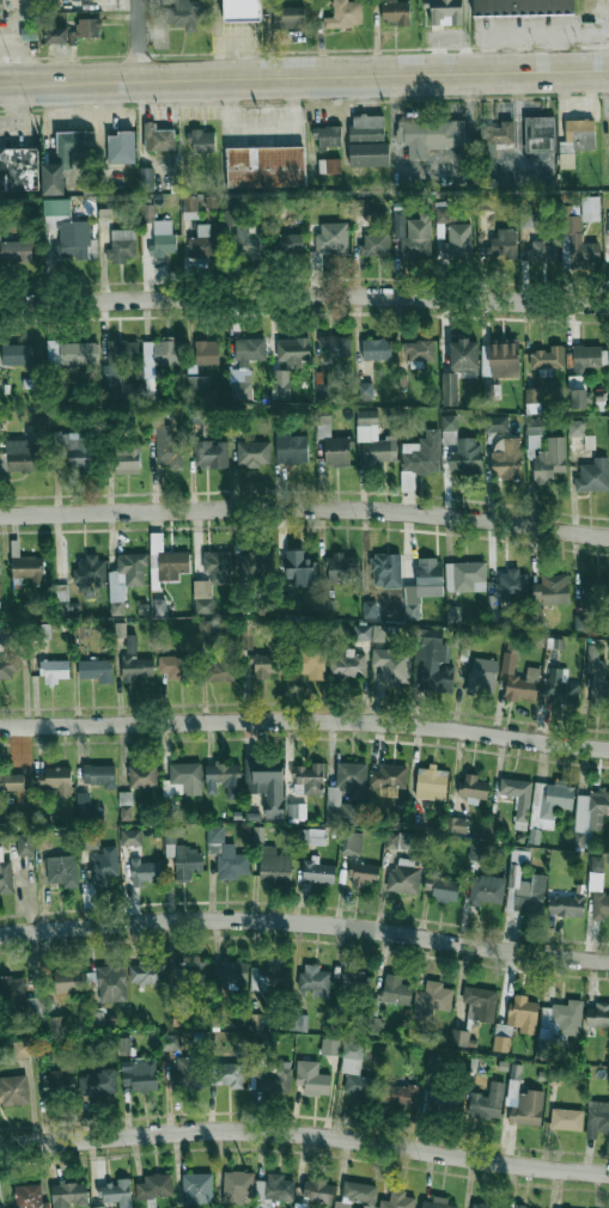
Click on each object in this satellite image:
building: (522, 7)
building: (242, 10)
building: (396, 12)
building: (444, 12)
building: (181, 13)
building: (345, 14)
building: (288, 18)
building: (85, 29)
building: (56, 35)
road: (529, 36)
road: (140, 39)
road: (602, 47)
road: (560, 51)
road: (522, 53)
road: (26, 55)
road: (304, 74)
building: (367, 128)
building: (498, 133)
building: (538, 133)
building: (328, 135)
building: (430, 135)
building: (578, 135)
building: (158, 138)
building: (201, 141)
building: (121, 147)
building: (369, 154)
building: (65, 158)
building: (330, 165)
building: (266, 166)
building: (18, 169)
road: (432, 169)
building: (146, 178)
building: (189, 203)
building: (361, 206)
building: (56, 207)
building: (105, 208)
building: (590, 208)
building: (445, 212)
building: (147, 213)
building: (528, 220)
building: (163, 238)
building: (331, 238)
building: (416, 238)
building: (73, 239)
building: (246, 239)
building: (458, 242)
building: (203, 244)
building: (290, 244)
building: (504, 244)
building: (121, 245)
building: (374, 245)
building: (580, 246)
building: (542, 250)
building: (16, 251)
road: (304, 298)
building: (334, 346)
building: (376, 349)
building: (293, 350)
building: (72, 352)
building: (206, 352)
building: (419, 352)
building: (17, 354)
building: (463, 354)
building: (547, 358)
building: (585, 358)
building: (500, 359)
building: (117, 362)
building: (245, 365)
building: (280, 383)
building: (197, 385)
building: (449, 389)
building: (364, 390)
building: (489, 390)
building: (136, 391)
building: (578, 398)
building: (323, 415)
building: (449, 422)
building: (495, 423)
building: (534, 426)
building: (374, 439)
building: (581, 443)
building: (168, 447)
building: (292, 449)
building: (77, 451)
building: (336, 451)
building: (211, 453)
building: (252, 453)
building: (421, 453)
building: (22, 456)
building: (465, 456)
building: (127, 460)
building: (507, 460)
building: (549, 460)
building: (593, 475)
building: (408, 481)
road: (305, 508)
building: (166, 561)
building: (256, 562)
building: (28, 567)
building: (300, 567)
building: (341, 567)
building: (386, 569)
building: (90, 572)
building: (465, 576)
building: (126, 579)
building: (212, 580)
building: (512, 585)
building: (424, 586)
building: (550, 590)
building: (596, 594)
building: (158, 606)
building: (370, 609)
building: (580, 623)
building: (205, 627)
building: (246, 633)
building: (363, 633)
building: (378, 633)
building: (135, 661)
building: (268, 661)
building: (312, 663)
building: (348, 664)
building: (171, 665)
building: (433, 665)
building: (392, 666)
building: (7, 669)
building: (96, 670)
building: (224, 670)
building: (54, 671)
building: (597, 675)
building: (482, 676)
building: (518, 678)
building: (560, 687)
road: (305, 721)
building: (99, 775)
building: (221, 775)
building: (142, 776)
building: (388, 776)
building: (185, 777)
building: (309, 777)
building: (352, 779)
building: (11, 780)
building: (55, 780)
building: (267, 783)
building: (431, 783)
building: (473, 788)
building: (518, 795)
building: (124, 801)
building: (550, 803)
building: (342, 804)
building: (86, 809)
building: (297, 811)
building: (589, 816)
building: (396, 819)
building: (457, 824)
building: (258, 835)
building: (130, 837)
building: (89, 840)
building: (400, 841)
building: (352, 842)
building: (25, 843)
building: (475, 852)
building: (519, 856)
building: (187, 861)
building: (231, 862)
building: (597, 864)
building: (104, 865)
building: (274, 865)
building: (146, 867)
building: (62, 871)
building: (317, 872)
building: (5, 873)
building: (364, 874)
building: (403, 876)
building: (445, 890)
building: (486, 890)
building: (530, 895)
building: (598, 896)
building: (566, 905)
road: (305, 921)
building: (147, 972)
building: (191, 972)
building: (230, 972)
building: (269, 977)
building: (316, 980)
building: (68, 981)
building: (354, 982)
building: (111, 983)
building: (396, 990)
building: (432, 999)
building: (17, 1000)
building: (480, 1003)
building: (597, 1015)
building: (182, 1018)
building: (97, 1020)
building: (298, 1021)
building: (516, 1021)
building: (373, 1023)
building: (56, 1024)
building: (558, 1024)
building: (459, 1037)
building: (171, 1042)
building: (124, 1045)
building: (330, 1047)
building: (22, 1048)
building: (436, 1060)
building: (183, 1072)
building: (357, 1072)
building: (139, 1074)
building: (227, 1074)
building: (272, 1078)
building: (312, 1078)
building: (97, 1082)
building: (59, 1085)
building: (13, 1091)
building: (398, 1094)
building: (443, 1100)
building: (487, 1102)
building: (526, 1109)
building: (566, 1118)
building: (597, 1118)
road: (305, 1134)
building: (154, 1186)
building: (237, 1186)
building: (197, 1188)
building: (279, 1188)
building: (318, 1190)
building: (117, 1192)
building: (68, 1194)
building: (357, 1195)
building: (30, 1196)
building: (397, 1200)
building: (437, 1203)
building: (299, 1206)
building: (481, 1206)
building: (99, 1207)

